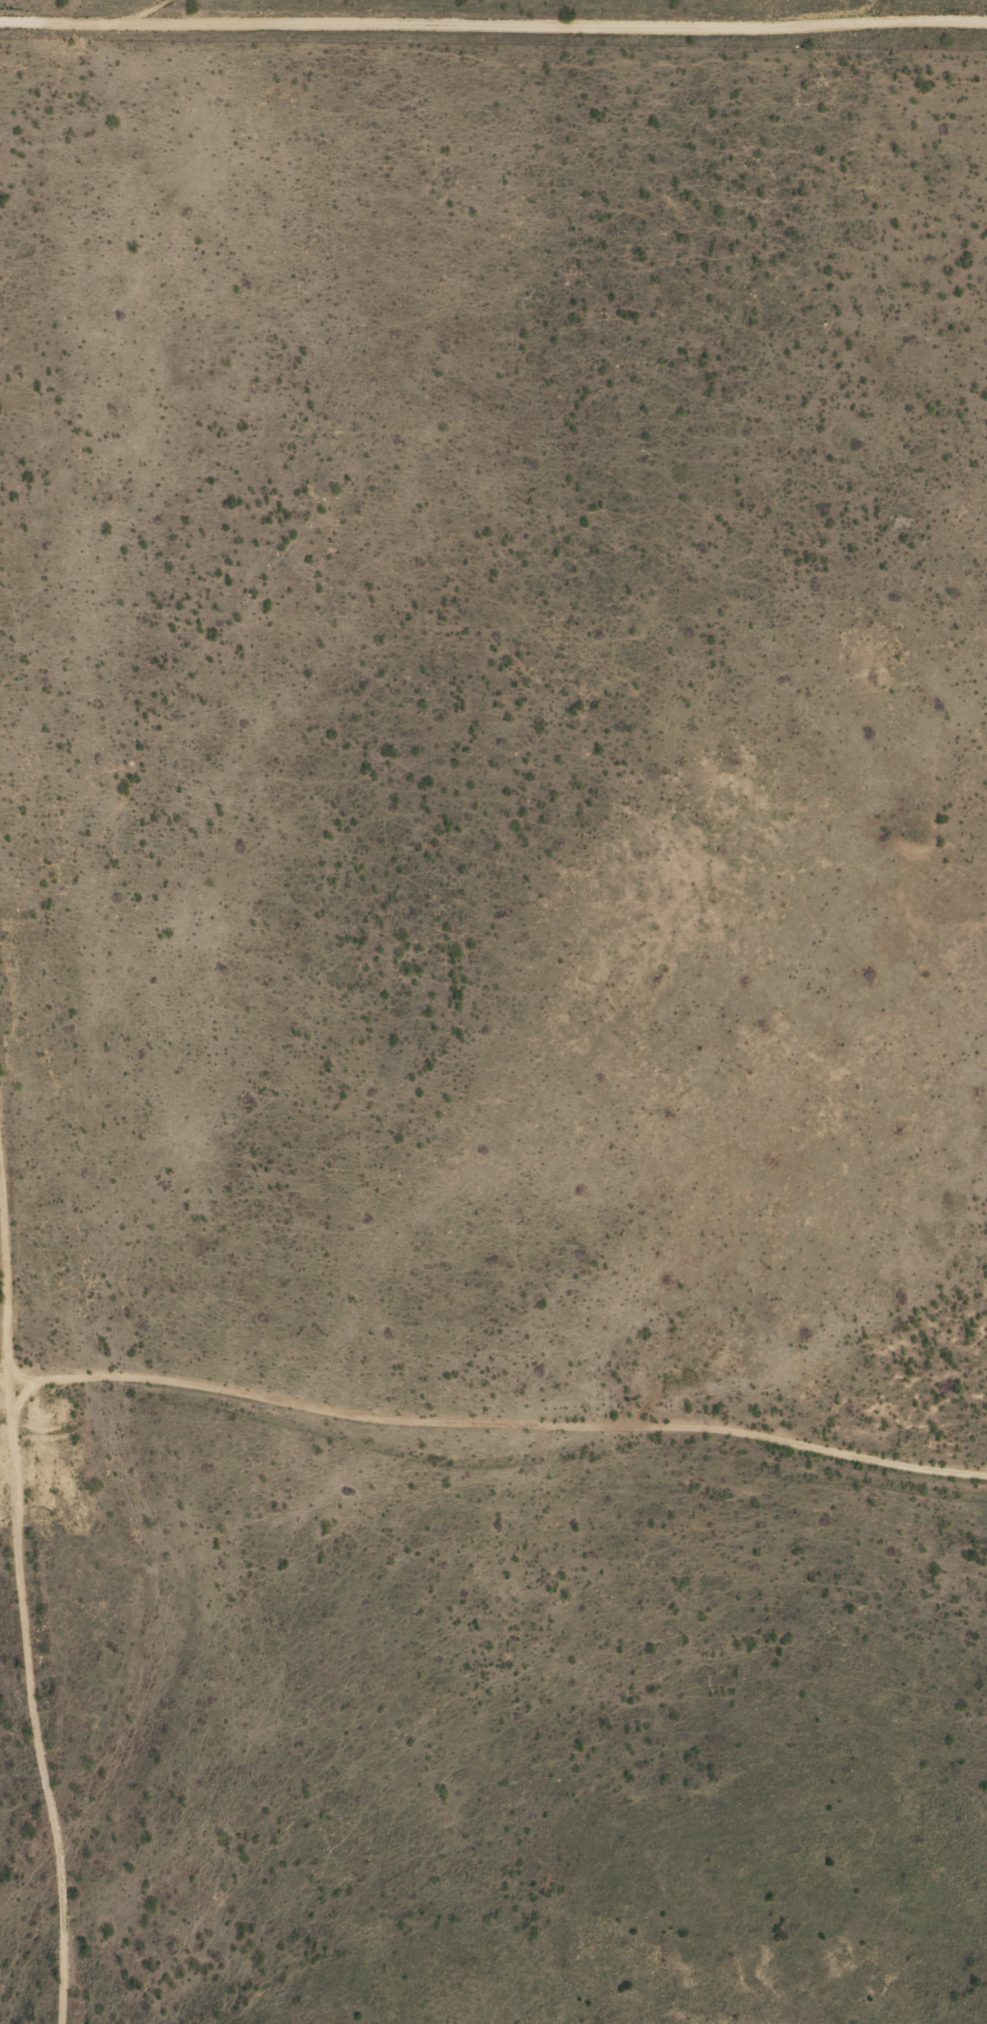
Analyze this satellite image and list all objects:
road: (19, 1478)
road: (489, 1478)

